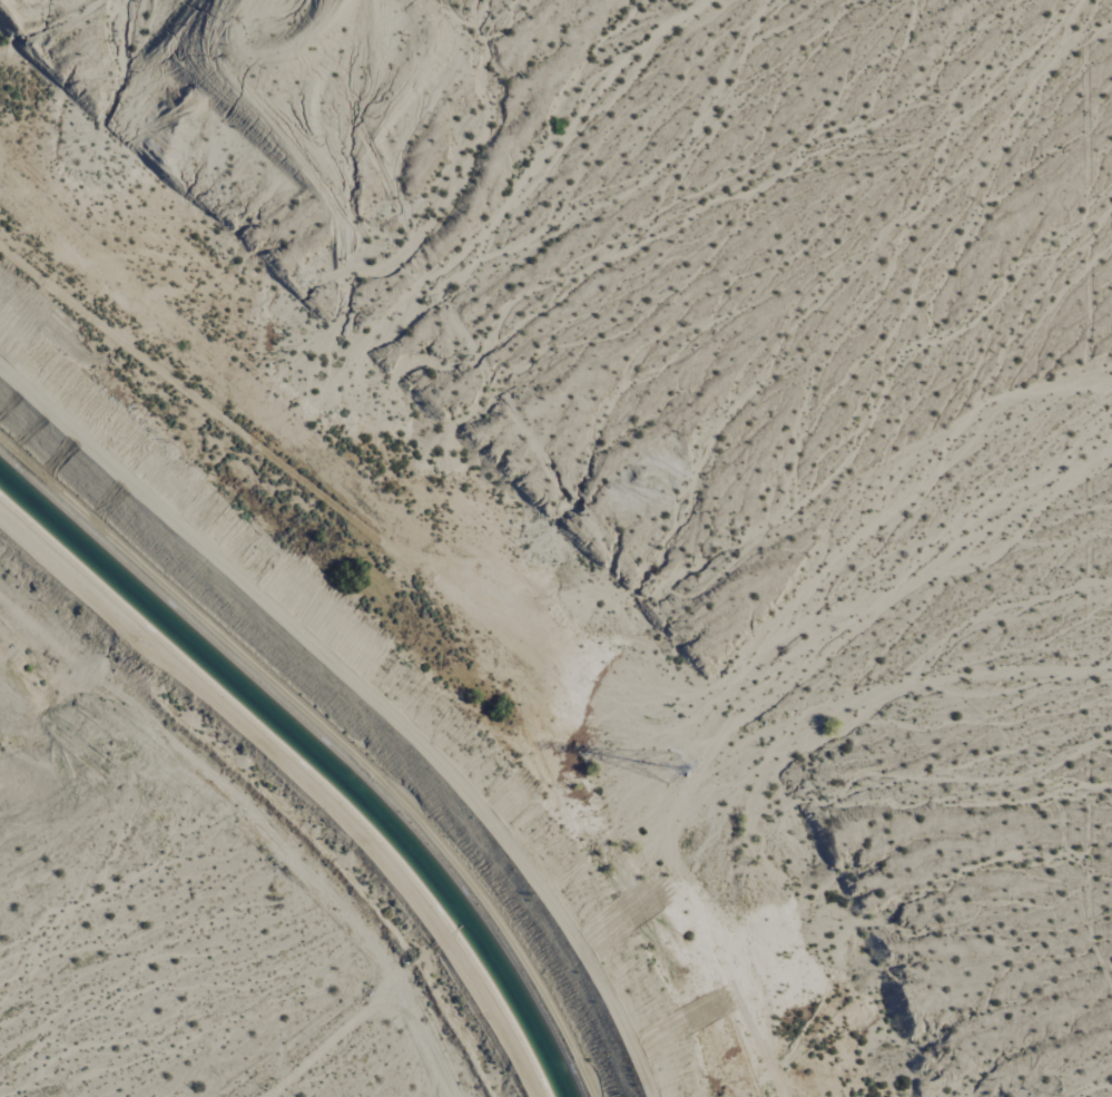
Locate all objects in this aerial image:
power tower: (665, 752)
road: (314, 1054)

